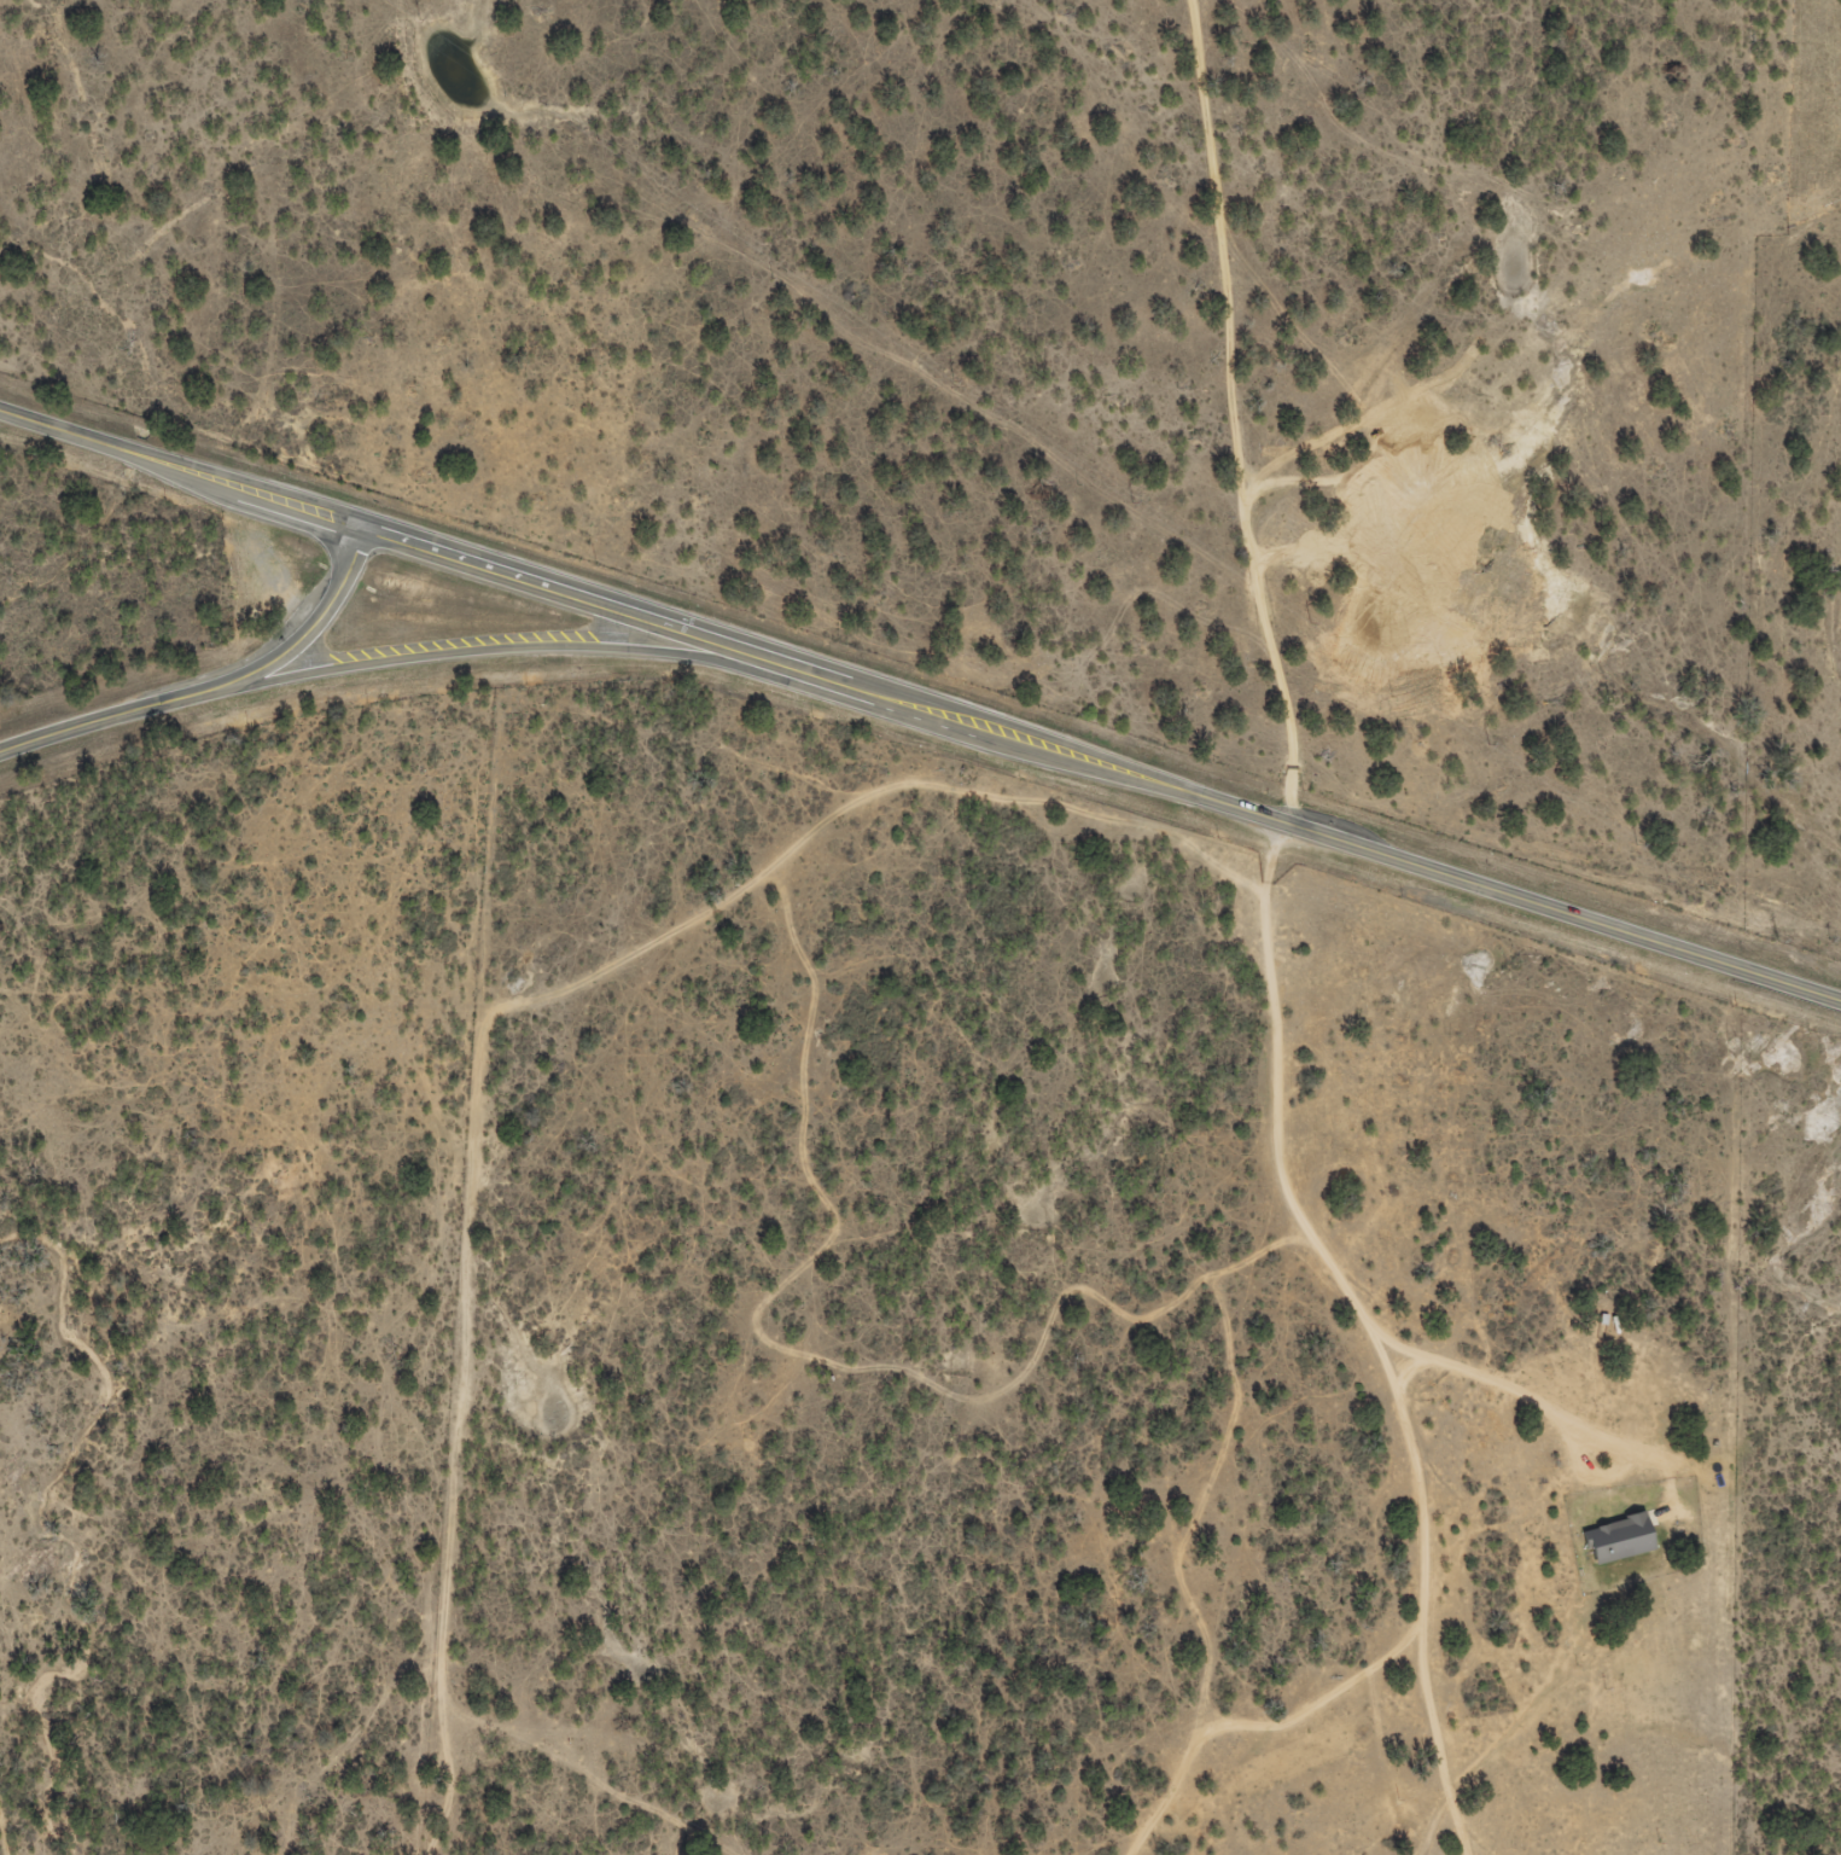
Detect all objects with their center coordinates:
road: (1510, 213)
road: (1258, 412)
road: (182, 469)
road: (596, 601)
road: (308, 632)
road: (515, 645)
road: (101, 719)
road: (1334, 838)
road: (1329, 1322)

